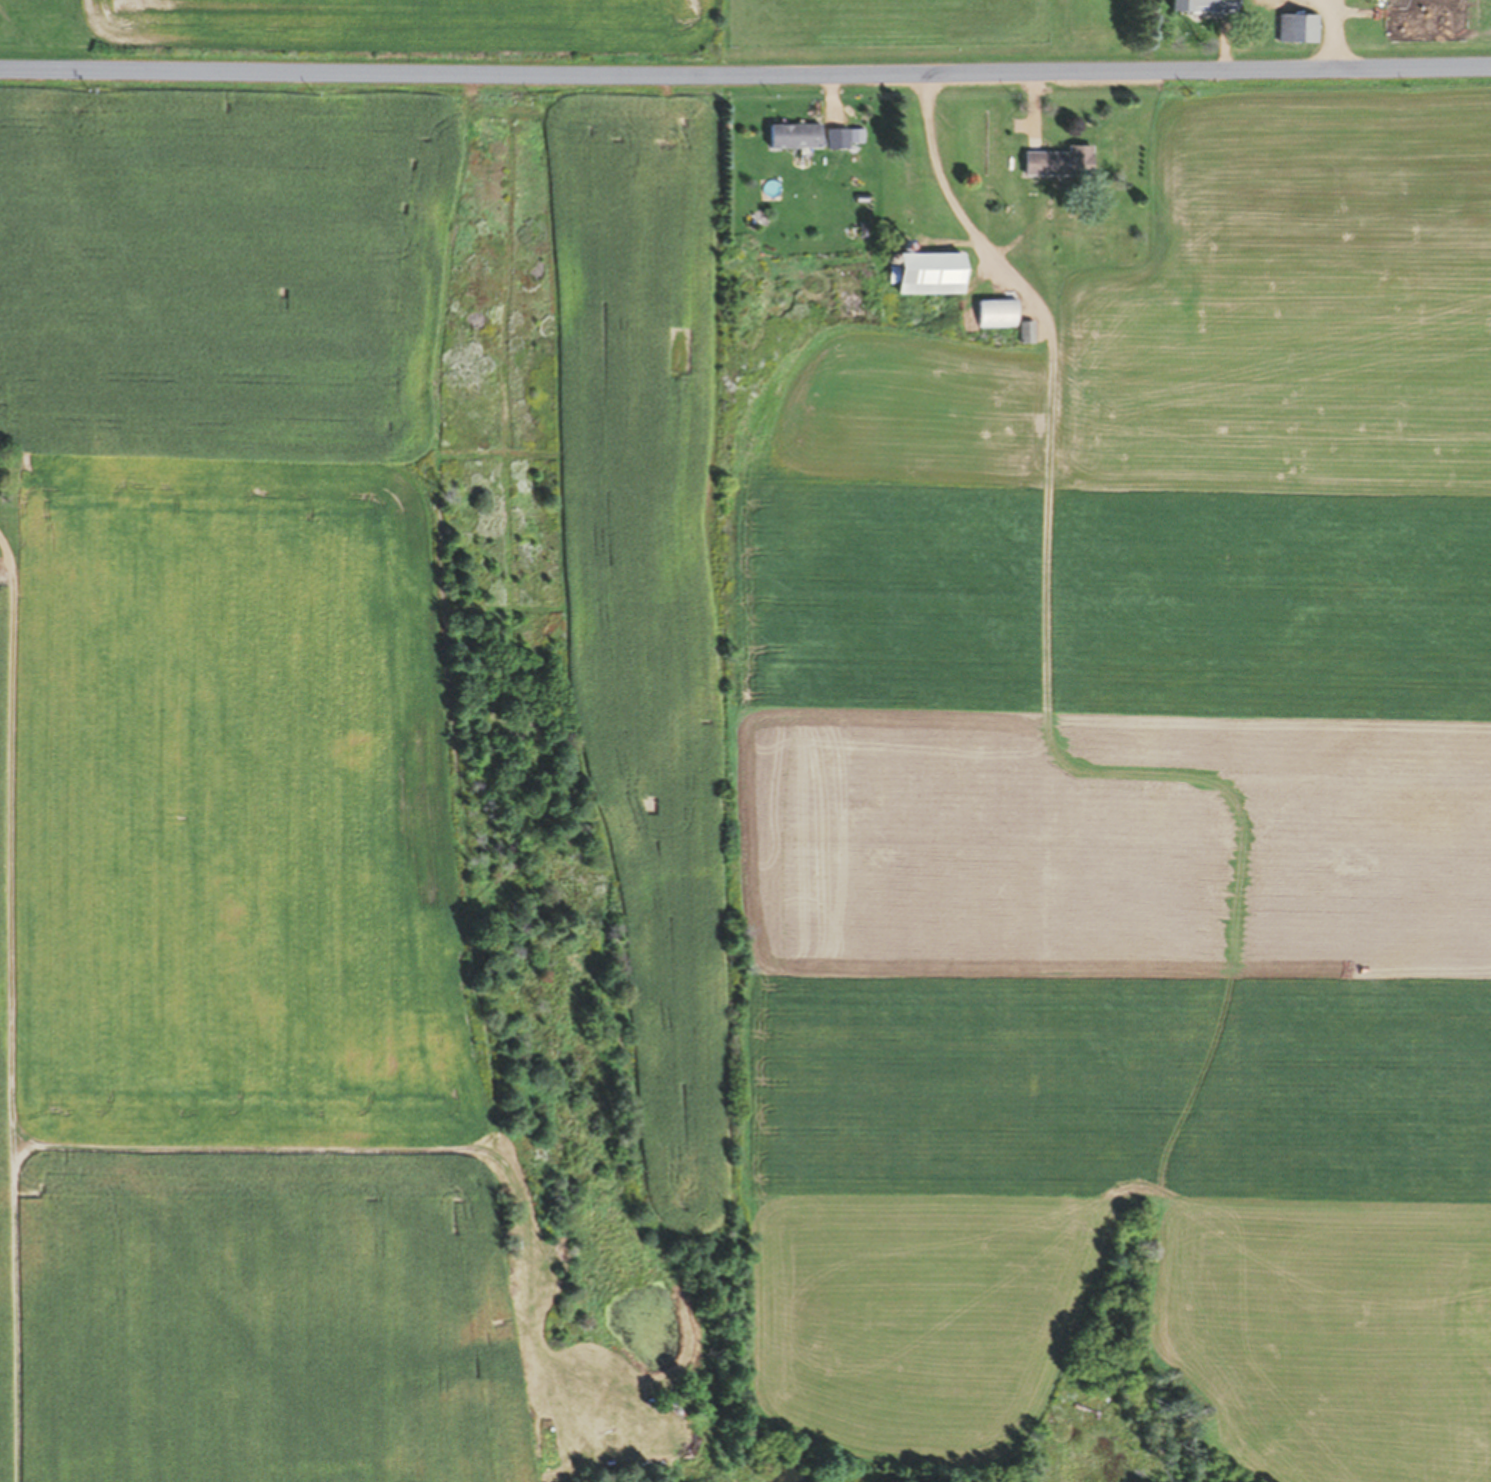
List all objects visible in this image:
building: (1203, 5)
building: (1296, 27)
road: (745, 72)
building: (793, 134)
building: (1057, 162)
building: (926, 273)
building: (994, 313)
building: (1024, 332)
road: (7, 1010)
road: (245, 1146)

